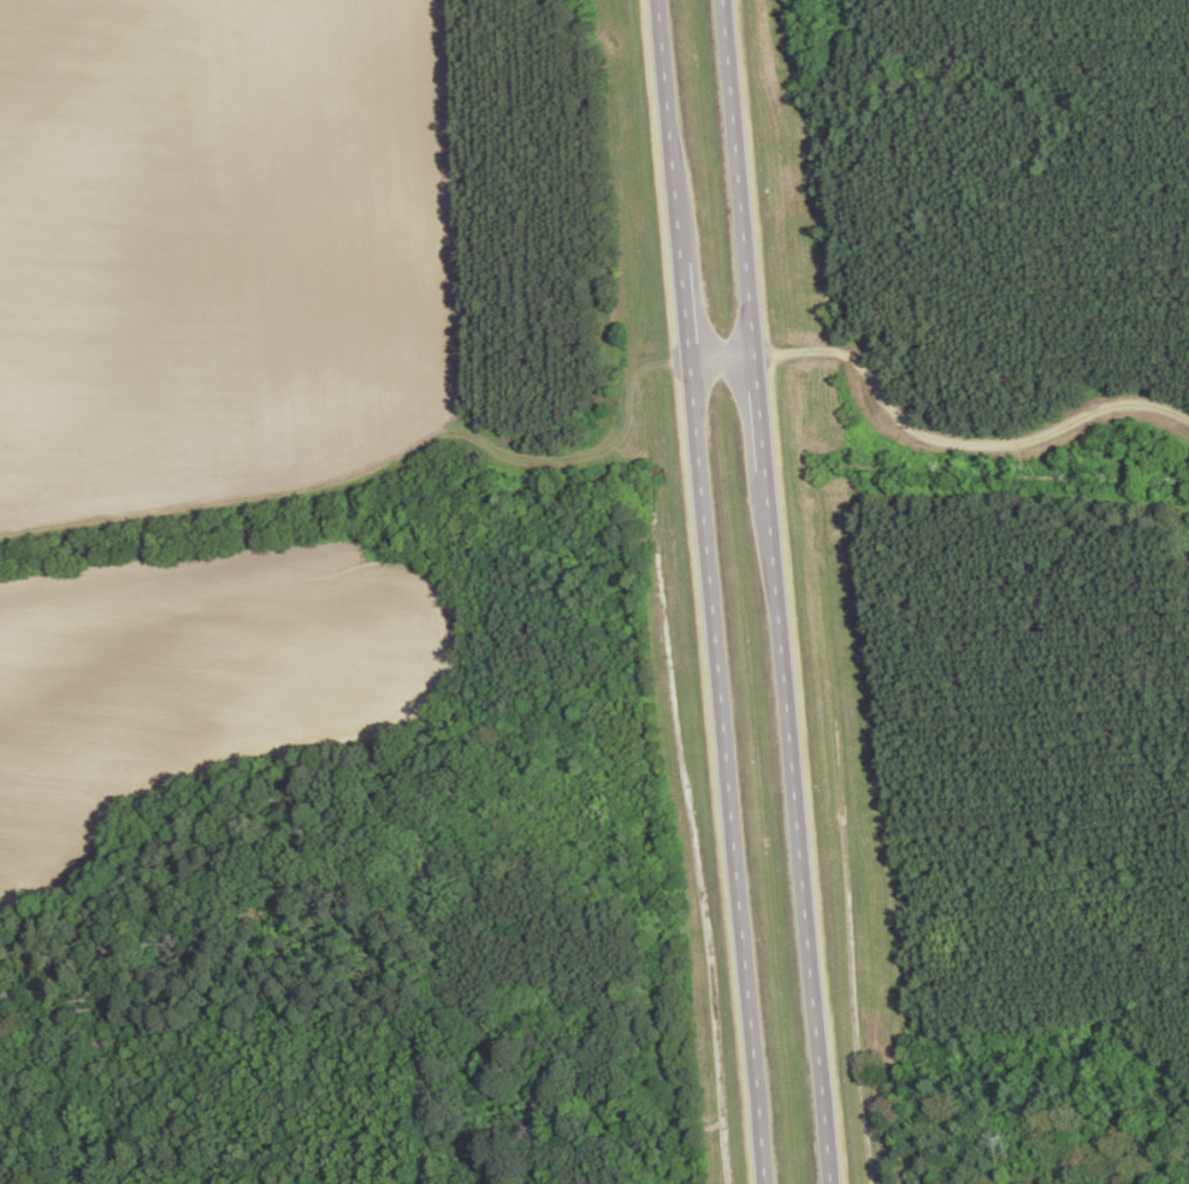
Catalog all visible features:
road: (669, 132)
road: (739, 177)
road: (686, 313)
road: (723, 357)
road: (761, 413)
road: (726, 771)
road: (797, 827)

